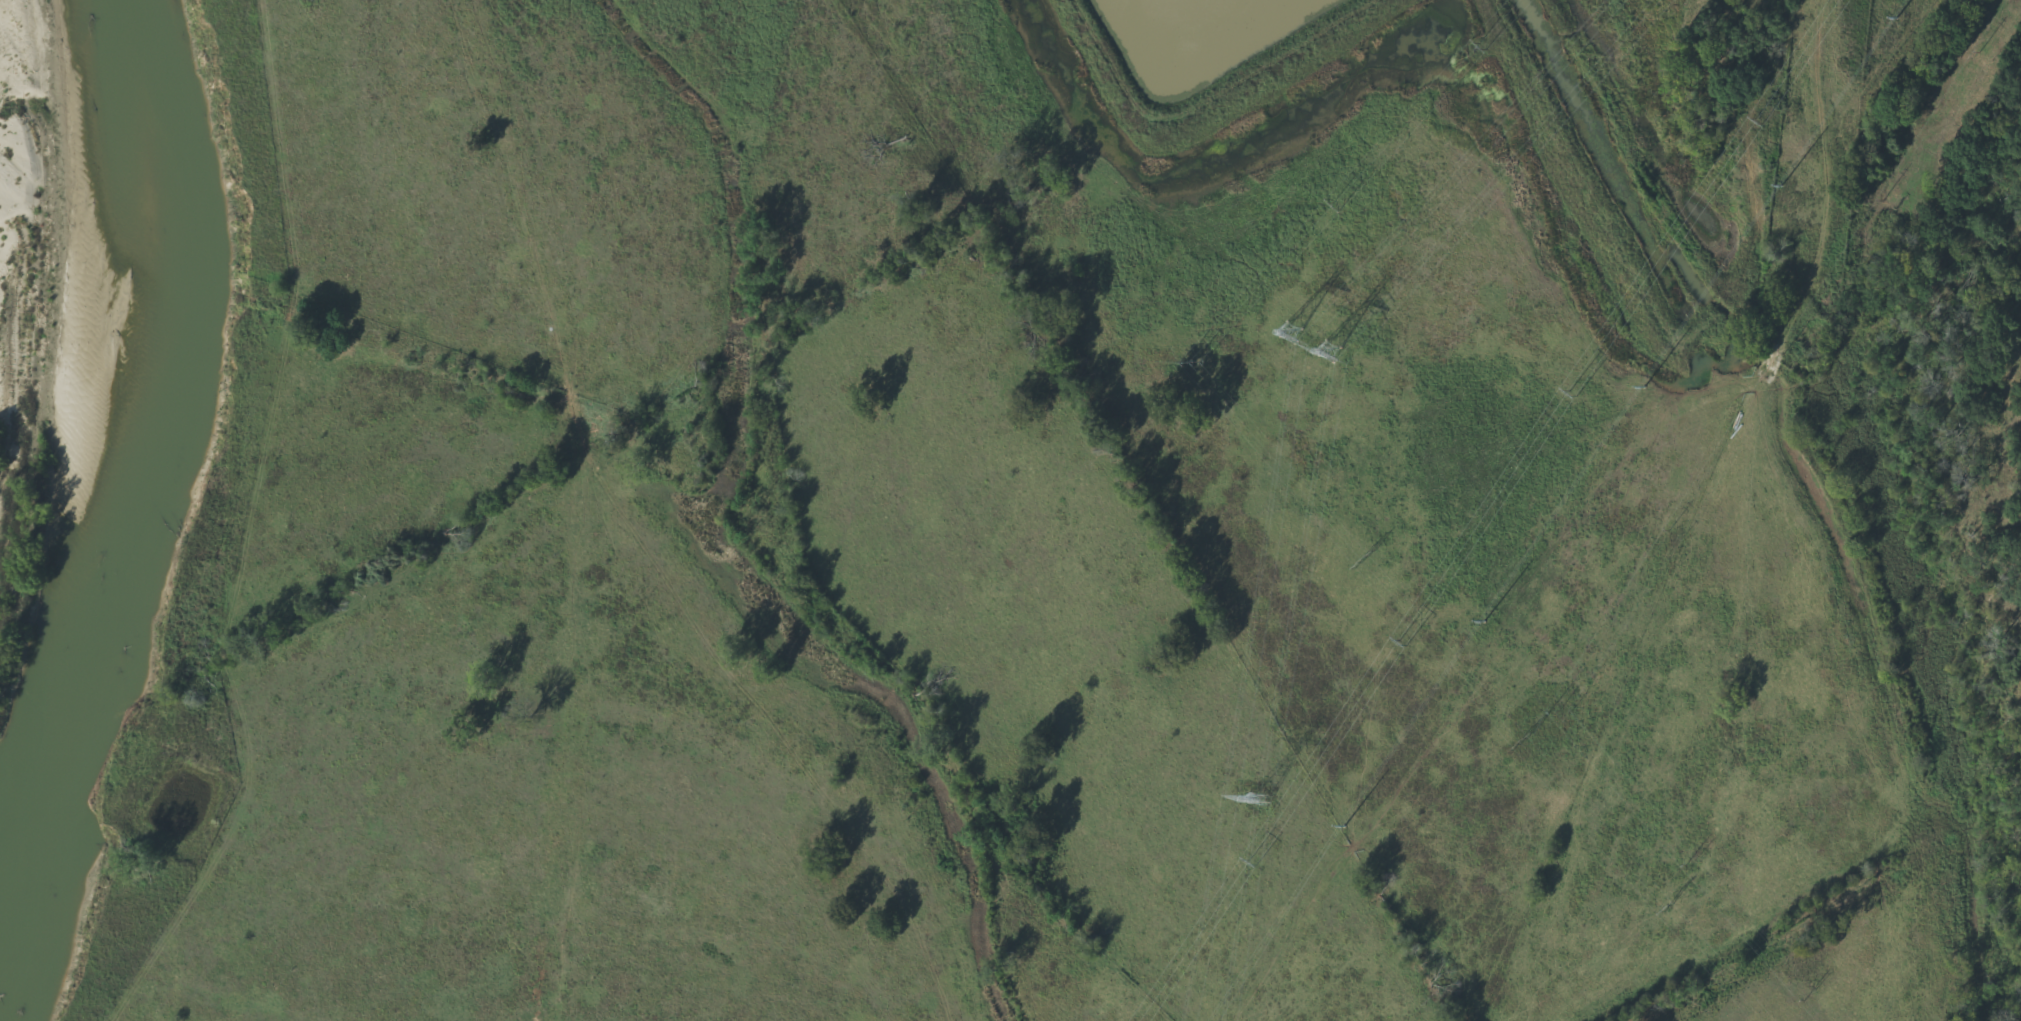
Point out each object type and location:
power tower: (1898, 17)
power tower: (1484, 44)
power tower: (1759, 121)
power tower: (1782, 185)
power tower: (1337, 203)
power tower: (1333, 353)
power tower: (1197, 359)
power tower: (1644, 385)
power tower: (1575, 395)
power tower: (1366, 558)
power tower: (1484, 620)
power tower: (1406, 644)
power tower: (1525, 740)
power tower: (1260, 799)
power tower: (1343, 825)
power tower: (1670, 908)

